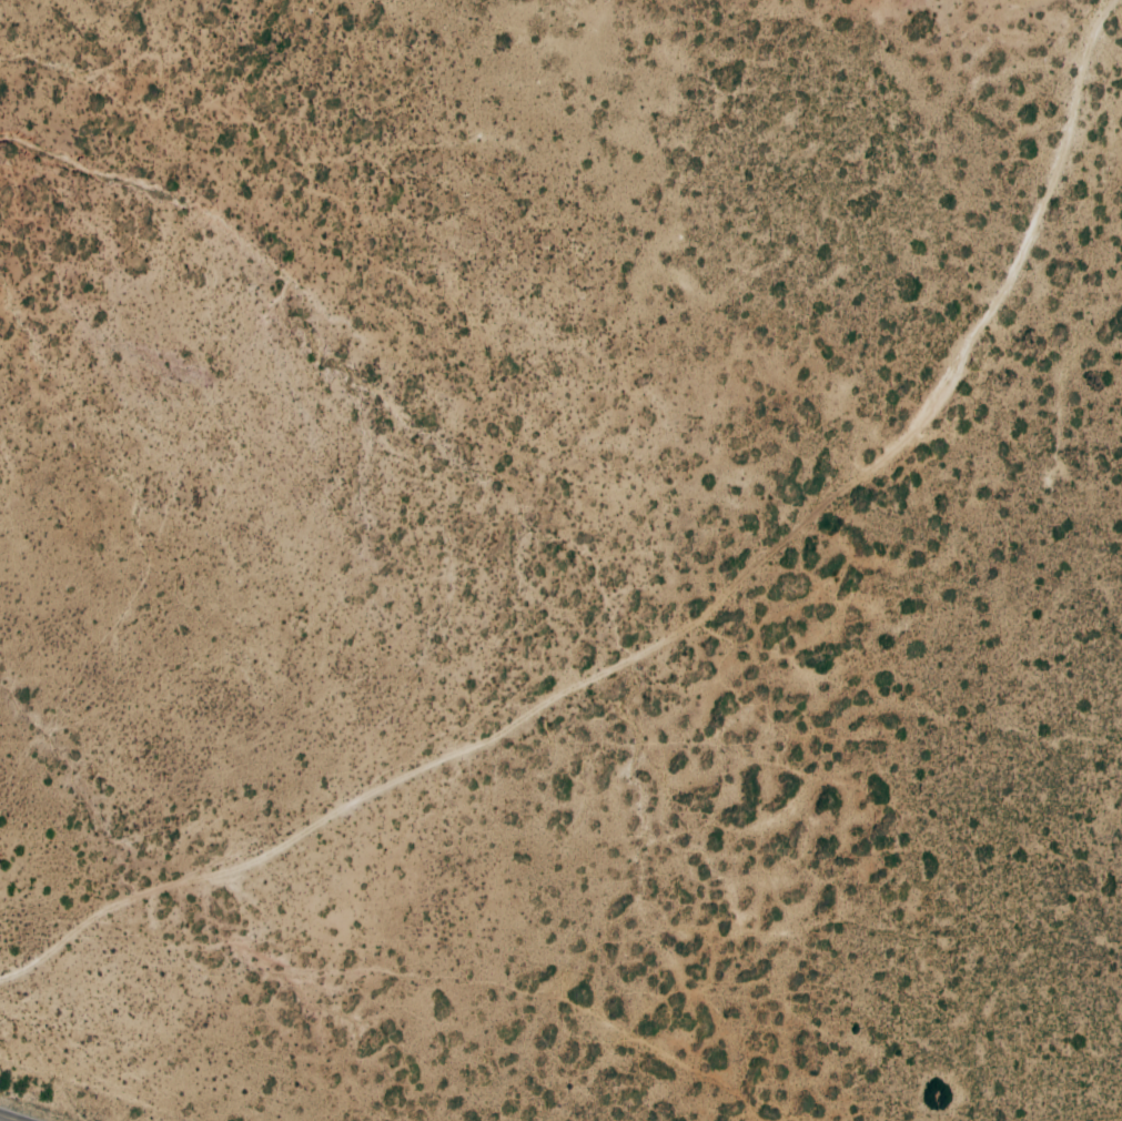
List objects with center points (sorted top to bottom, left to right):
road: (627, 608)
road: (12, 1117)

